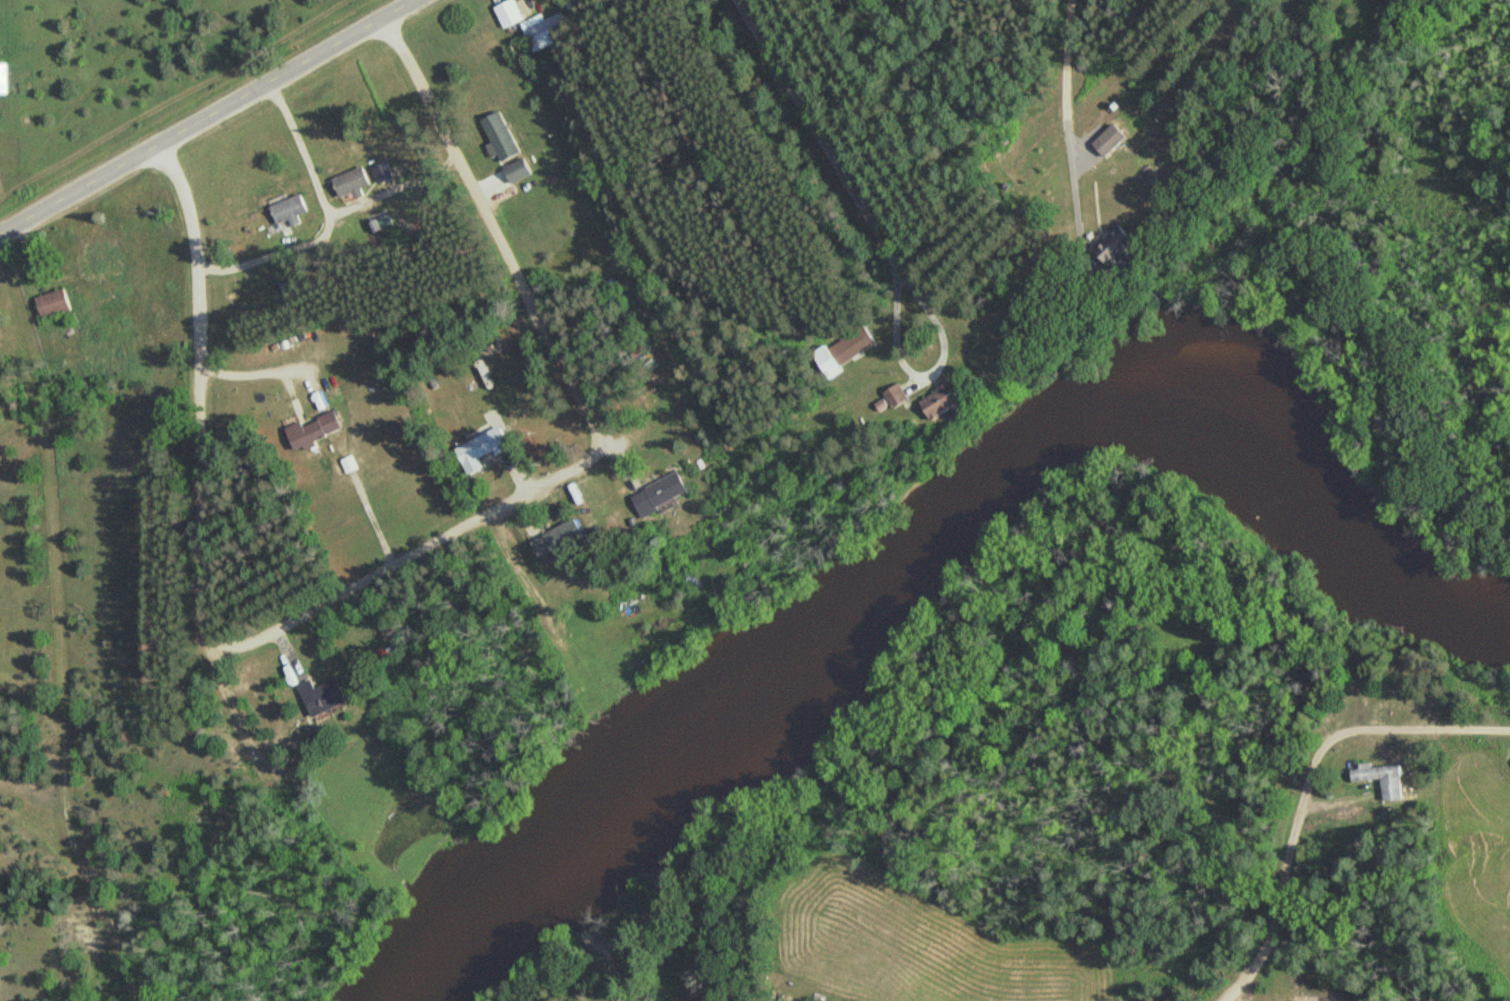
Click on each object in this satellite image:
building: (510, 12)
building: (542, 30)
building: (4, 77)
road: (207, 115)
building: (502, 137)
building: (1112, 138)
building: (520, 169)
building: (356, 182)
road: (836, 183)
building: (291, 208)
building: (1120, 242)
building: (107, 262)
building: (56, 302)
building: (846, 349)
building: (898, 394)
building: (946, 399)
building: (317, 429)
building: (483, 448)
river: (937, 533)
building: (561, 538)
road: (398, 565)
building: (325, 695)
building: (1385, 778)
road: (1305, 787)
building: (1316, 1000)

